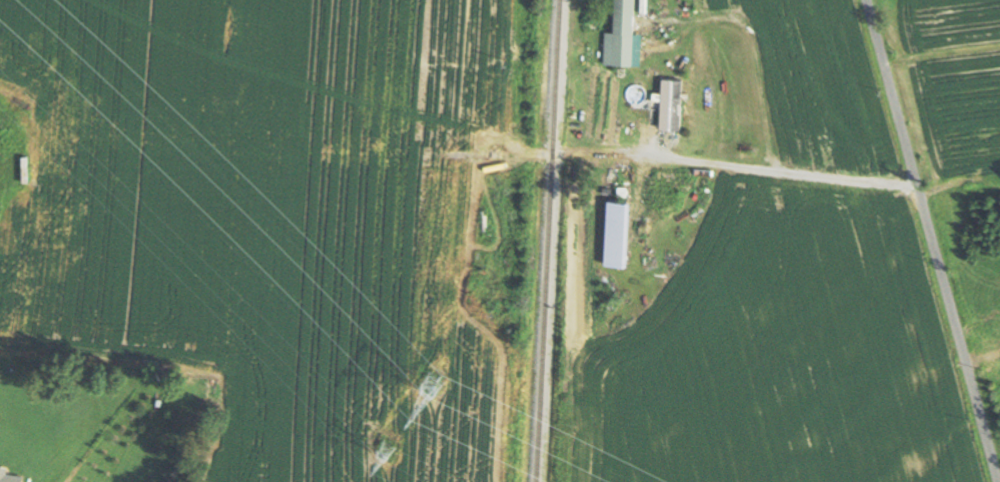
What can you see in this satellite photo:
building: (628, 32)
building: (675, 104)
building: (620, 232)
road: (934, 240)
railway: (549, 241)
power tower: (433, 385)
power tower: (387, 450)
building: (10, 476)

